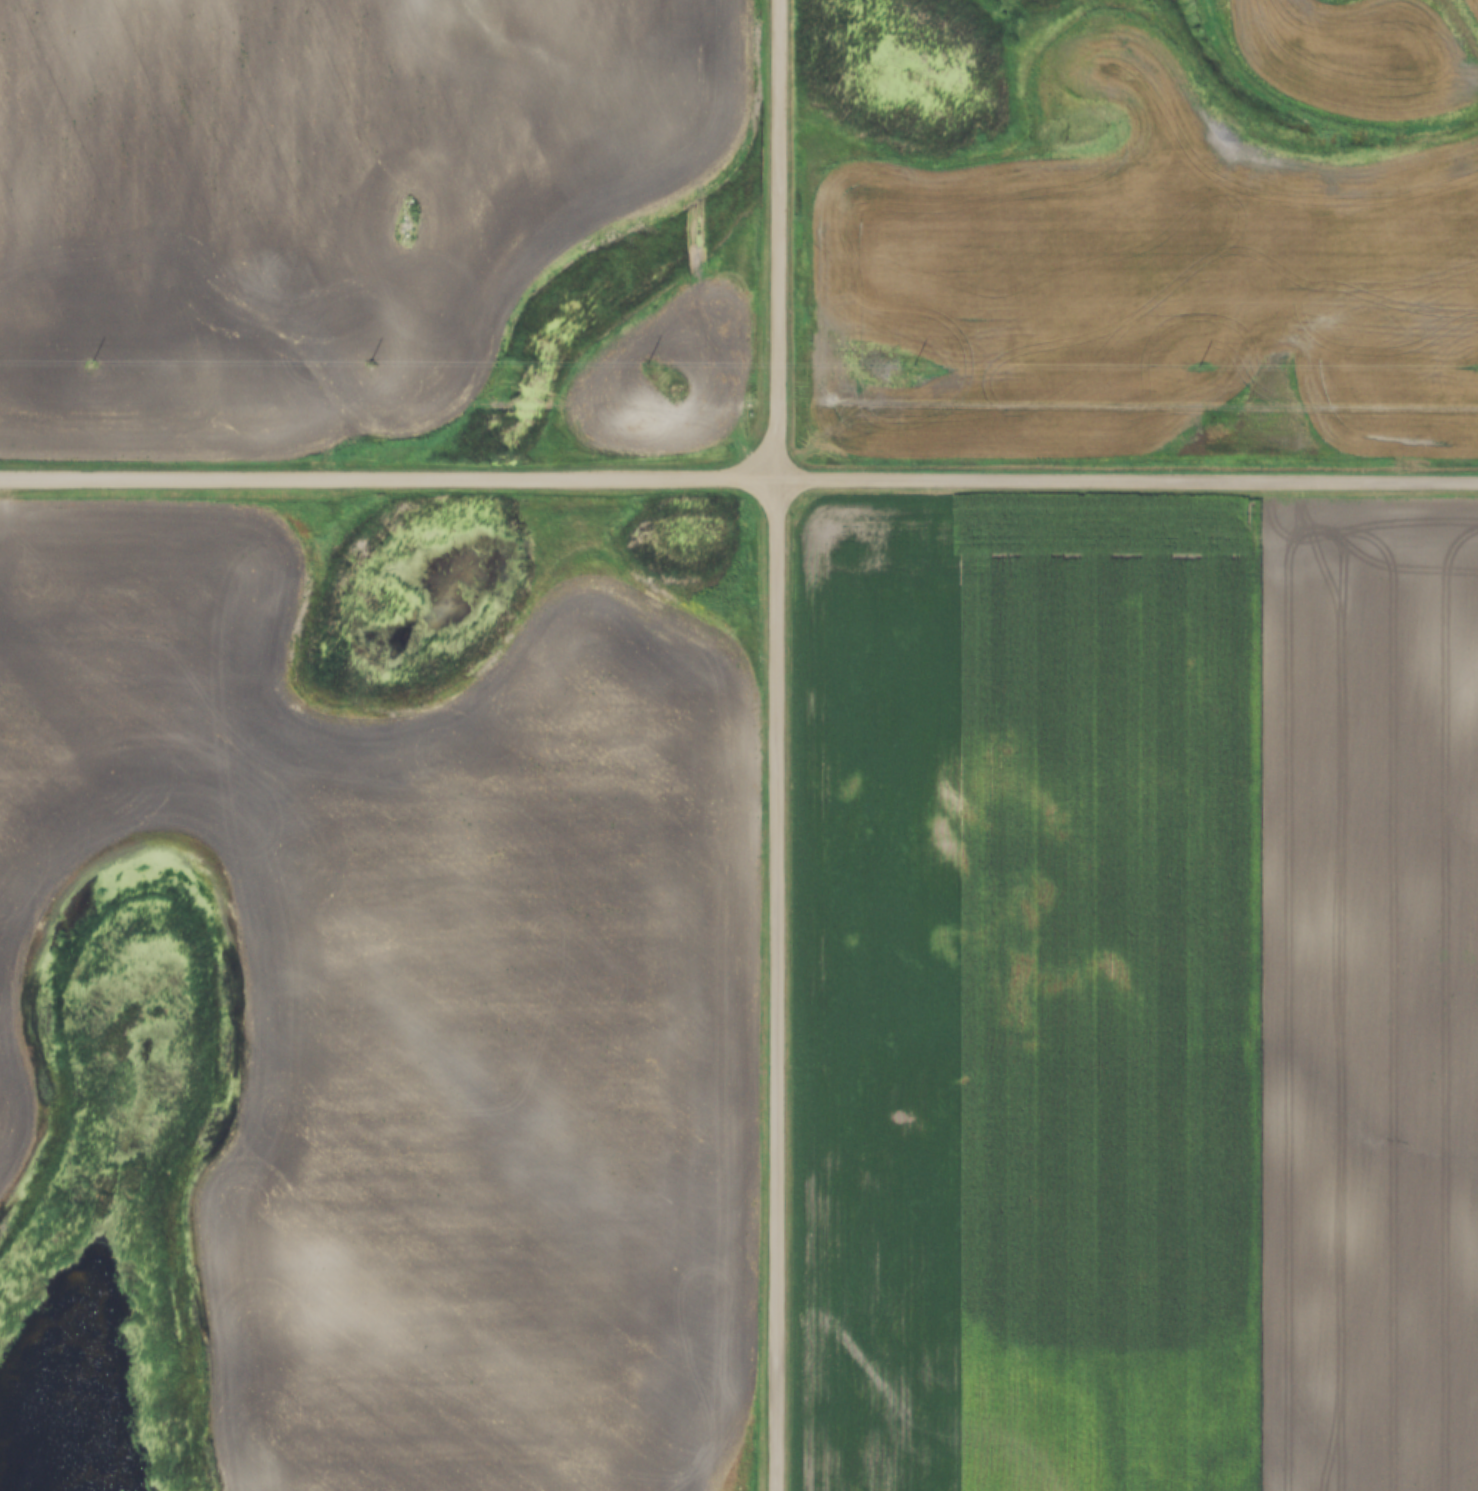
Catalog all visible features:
road: (739, 483)
road: (782, 745)

